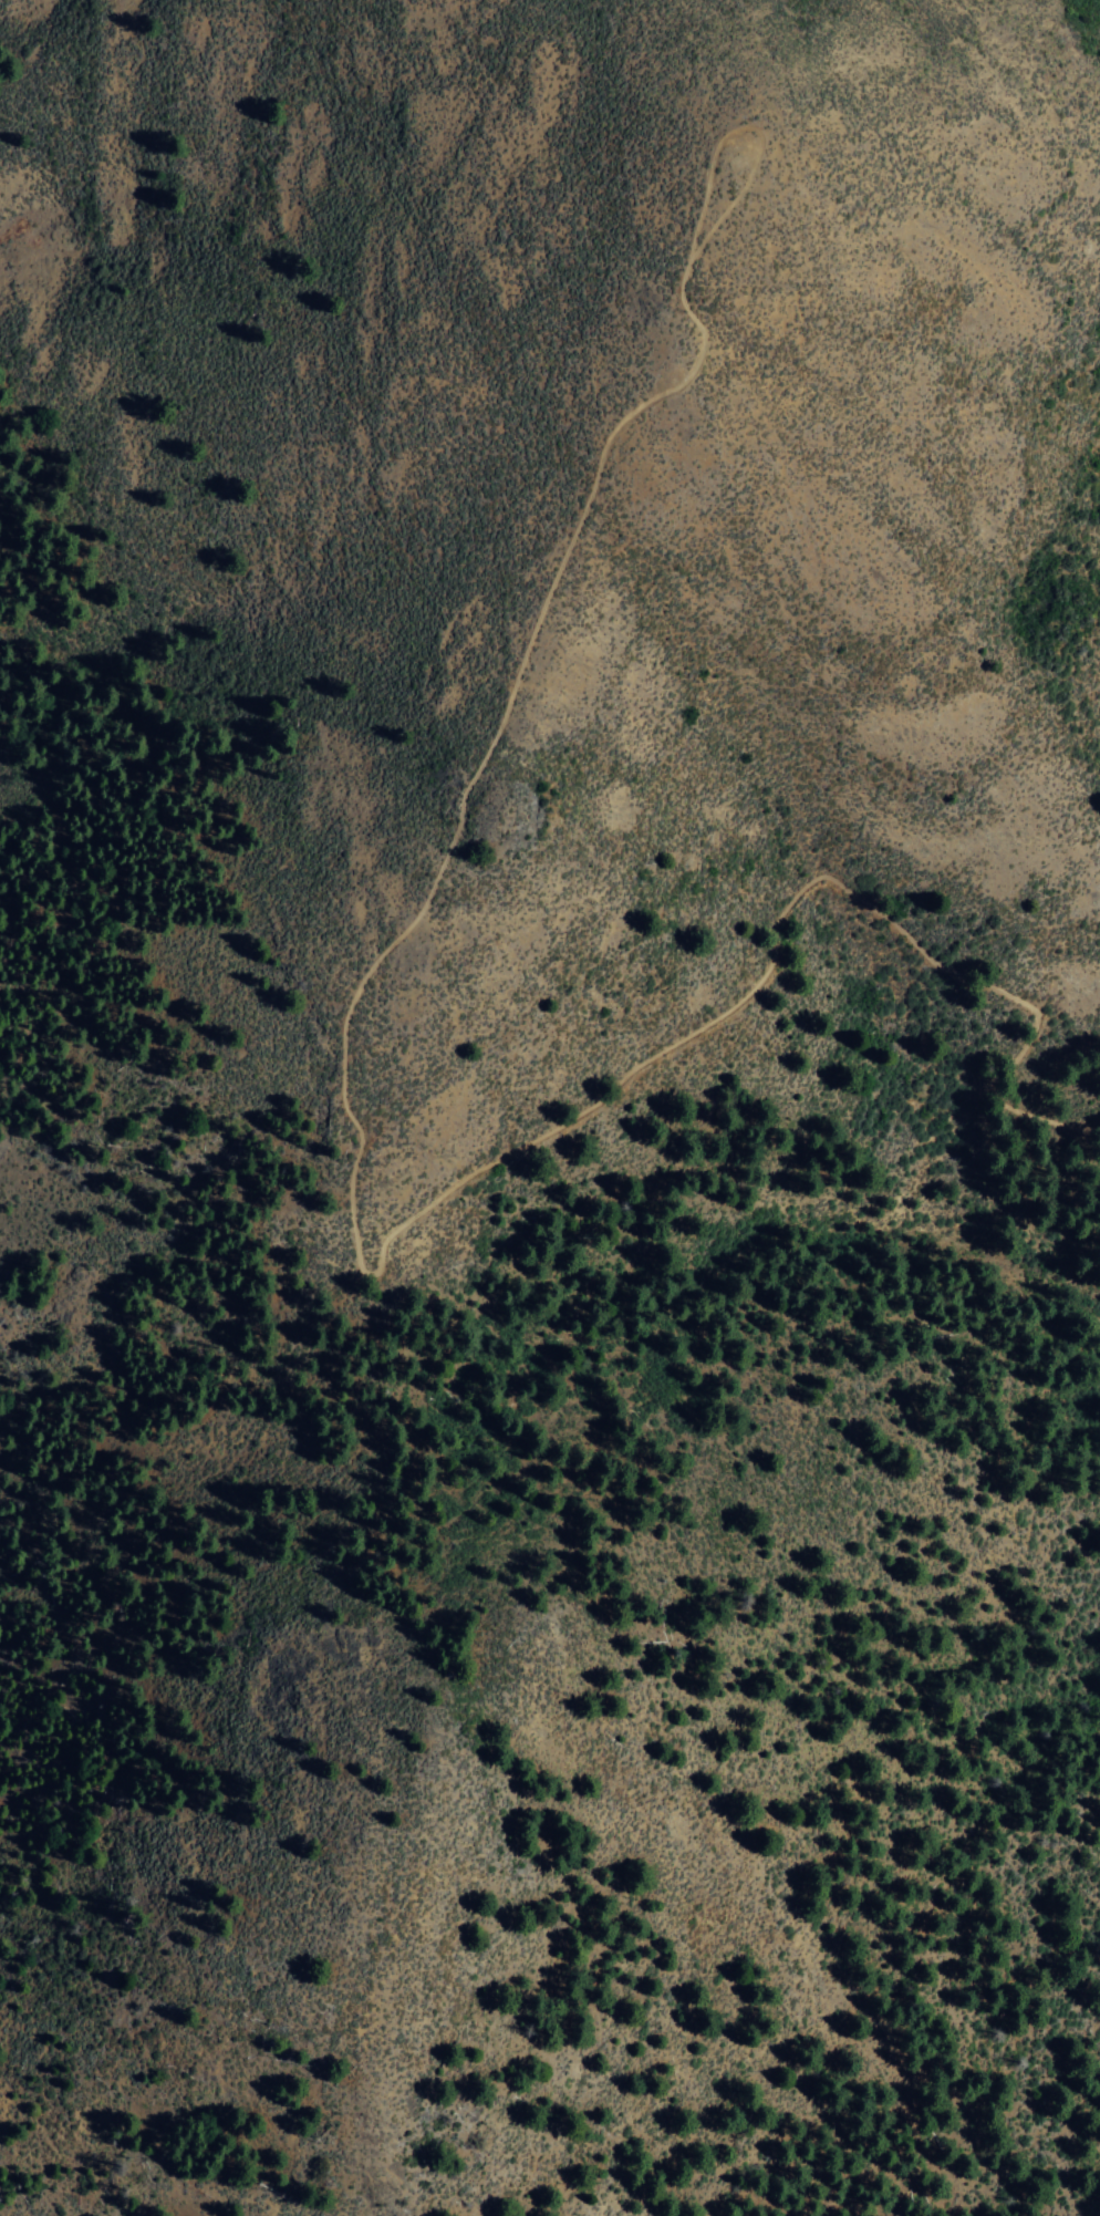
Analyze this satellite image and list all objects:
crop: (574, 571)
crop: (1039, 2160)

